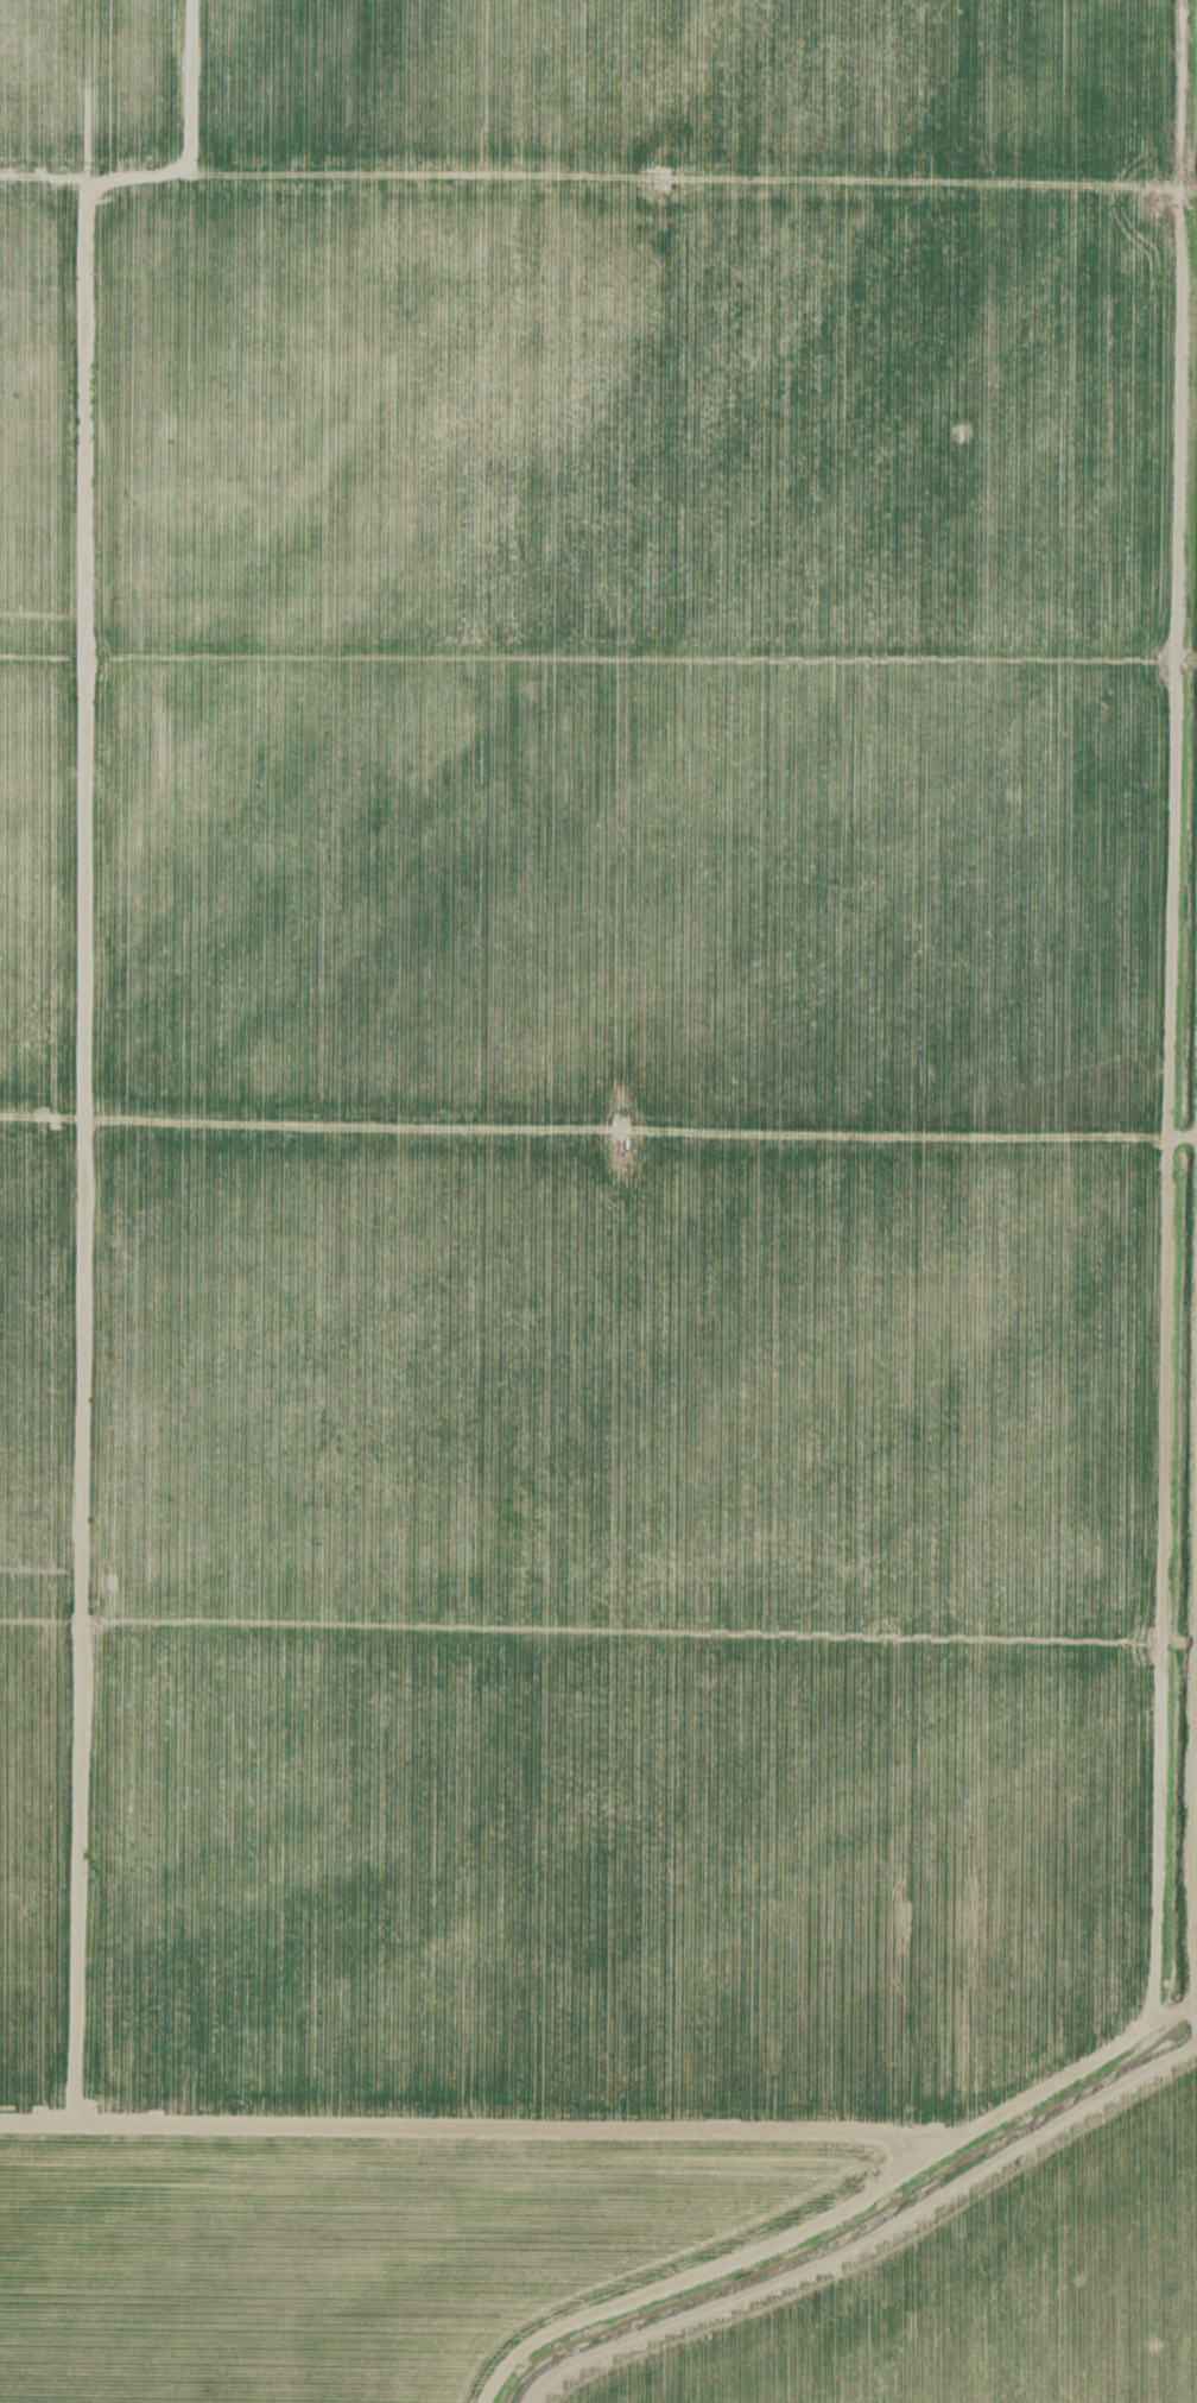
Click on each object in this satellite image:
road: (597, 1131)
road: (76, 1182)

